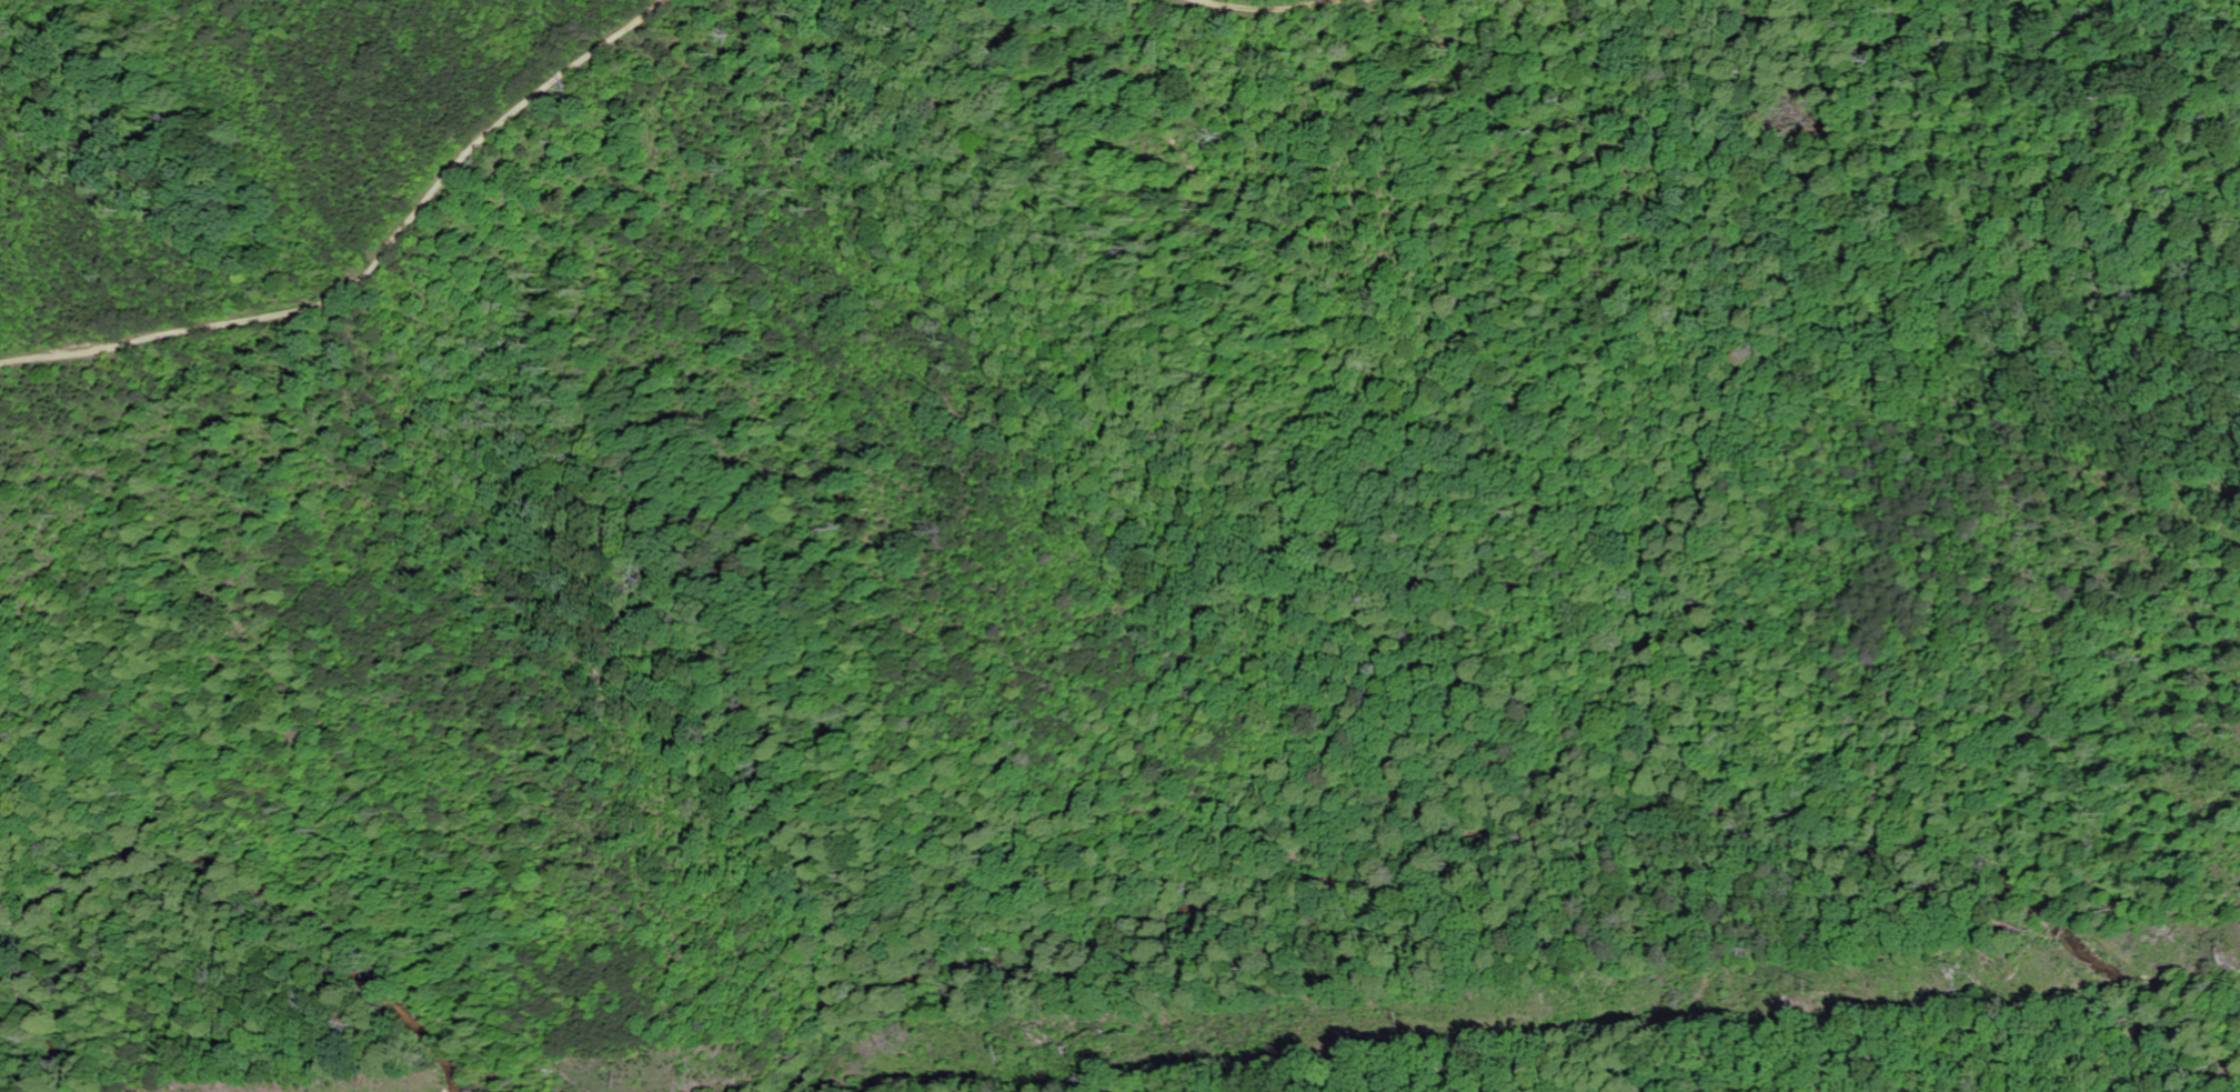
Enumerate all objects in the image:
road: (375, 264)

